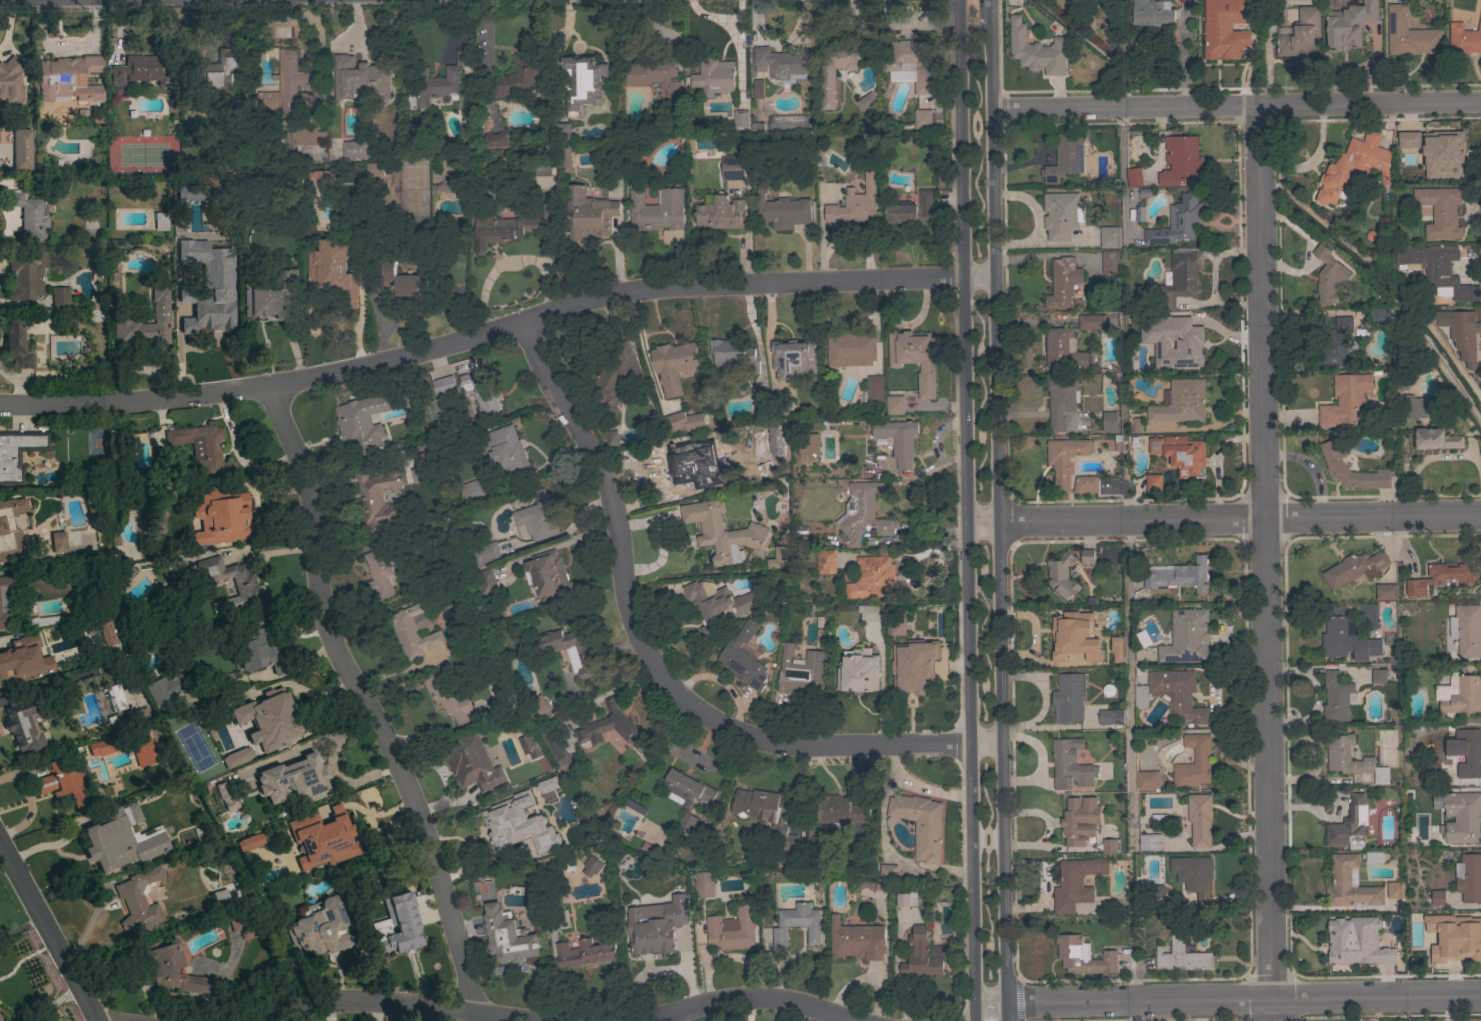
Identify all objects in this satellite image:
road: (987, 12)
building: (1152, 12)
building: (1349, 24)
building: (1212, 30)
building: (1409, 34)
building: (1301, 35)
building: (1464, 38)
building: (1036, 50)
building: (782, 62)
building: (909, 64)
building: (838, 66)
building: (142, 70)
building: (218, 72)
building: (654, 76)
building: (713, 76)
building: (358, 77)
building: (68, 79)
building: (10, 80)
building: (516, 81)
building: (436, 83)
building: (583, 83)
building: (287, 86)
building: (757, 88)
building: (867, 98)
road: (1309, 102)
road: (1063, 106)
building: (740, 118)
building: (922, 119)
building: (787, 123)
building: (757, 127)
traffic signals: (960, 132)
building: (303, 135)
building: (495, 139)
building: (1408, 139)
building: (21, 149)
building: (355, 149)
building: (1443, 153)
building: (1065, 157)
building: (566, 158)
building: (1180, 160)
building: (1353, 167)
building: (733, 168)
building: (375, 169)
building: (542, 169)
building: (356, 173)
building: (1134, 177)
building: (448, 187)
building: (854, 204)
building: (654, 208)
building: (912, 209)
building: (782, 211)
building: (1440, 211)
building: (721, 212)
building: (587, 213)
building: (1139, 214)
building: (29, 215)
building: (1061, 215)
building: (160, 221)
building: (1177, 221)
building: (192, 223)
building: (509, 227)
building: (1110, 237)
building: (1109, 262)
building: (1439, 272)
building: (28, 273)
building: (1328, 274)
building: (399, 279)
building: (1179, 279)
building: (1063, 282)
building: (336, 283)
building: (60, 297)
building: (269, 298)
building: (95, 312)
building: (207, 312)
building: (45, 316)
building: (1380, 316)
building: (1091, 322)
building: (1155, 322)
building: (143, 324)
road: (494, 329)
building: (1463, 333)
building: (1188, 343)
building: (1337, 344)
building: (16, 346)
building: (1137, 347)
building: (850, 349)
building: (1063, 349)
building: (734, 354)
building: (914, 358)
building: (793, 359)
building: (673, 365)
building: (615, 377)
building: (472, 389)
building: (875, 389)
building: (758, 398)
building: (1346, 400)
building: (1061, 401)
building: (1181, 402)
building: (894, 405)
building: (1411, 406)
building: (785, 407)
building: (684, 421)
building: (1109, 421)
building: (363, 423)
building: (1137, 425)
building: (611, 438)
building: (898, 439)
building: (1436, 439)
building: (1154, 445)
building: (810, 447)
building: (202, 449)
building: (18, 454)
building: (511, 454)
building: (1184, 454)
building: (1065, 458)
road: (1427, 458)
building: (1337, 461)
building: (673, 464)
building: (1153, 482)
building: (1085, 484)
building: (473, 492)
building: (370, 496)
road: (963, 498)
road: (991, 511)
building: (861, 513)
building: (221, 517)
building: (537, 517)
road: (1222, 517)
building: (10, 529)
building: (724, 532)
building: (485, 554)
building: (1087, 557)
building: (779, 558)
building: (825, 561)
road: (1264, 561)
building: (1355, 568)
building: (379, 573)
building: (549, 574)
building: (126, 575)
building: (1062, 575)
building: (1177, 575)
building: (1441, 577)
building: (872, 578)
building: (486, 581)
building: (244, 583)
building: (1386, 591)
building: (4, 601)
building: (717, 605)
building: (221, 607)
building: (870, 612)
building: (1101, 613)
building: (44, 621)
building: (414, 629)
building: (1466, 630)
building: (108, 634)
building: (1062, 634)
building: (58, 636)
building: (1360, 636)
building: (1186, 637)
building: (1346, 640)
building: (257, 647)
building: (1117, 648)
building: (5, 650)
building: (569, 650)
building: (743, 658)
road: (653, 661)
building: (799, 671)
building: (858, 671)
building: (1, 673)
building: (915, 673)
building: (1378, 676)
road: (1128, 683)
building: (164, 692)
building: (1173, 693)
building: (1460, 695)
building: (116, 697)
building: (1068, 697)
building: (1337, 697)
building: (448, 698)
road: (362, 702)
building: (535, 706)
building: (136, 716)
building: (1111, 718)
building: (22, 726)
building: (279, 727)
building: (611, 728)
building: (528, 745)
building: (104, 746)
building: (554, 746)
building: (1466, 751)
building: (143, 752)
building: (237, 758)
building: (1338, 759)
building: (1194, 762)
building: (472, 763)
building: (1070, 765)
building: (1147, 779)
building: (295, 780)
building: (62, 782)
building: (686, 789)
building: (226, 798)
building: (562, 801)
building: (635, 806)
building: (764, 811)
building: (838, 811)
building: (1462, 817)
building: (1199, 819)
building: (1079, 820)
building: (531, 822)
building: (686, 824)
building: (921, 824)
building: (1349, 825)
building: (120, 840)
building: (324, 840)
building: (1149, 842)
building: (250, 843)
building: (1109, 845)
building: (1373, 856)
building: (592, 866)
building: (888, 872)
building: (1194, 877)
building: (1469, 877)
building: (1076, 883)
building: (1350, 884)
building: (703, 885)
building: (1150, 890)
building: (1395, 890)
building: (219, 897)
building: (1438, 897)
building: (551, 898)
building: (139, 900)
building: (906, 900)
building: (796, 924)
building: (243, 925)
building: (655, 925)
building: (320, 928)
building: (731, 929)
building: (398, 930)
road: (48, 931)
building: (507, 936)
building: (1465, 938)
building: (858, 941)
building: (1342, 946)
building: (586, 951)
building: (1182, 955)
building: (922, 956)
building: (1083, 956)
building: (1381, 958)
building: (165, 959)
road: (741, 999)
road: (1226, 999)
road: (1018, 1000)
road: (387, 1002)
road: (973, 1009)
road: (1006, 1009)
building: (0, 1020)

